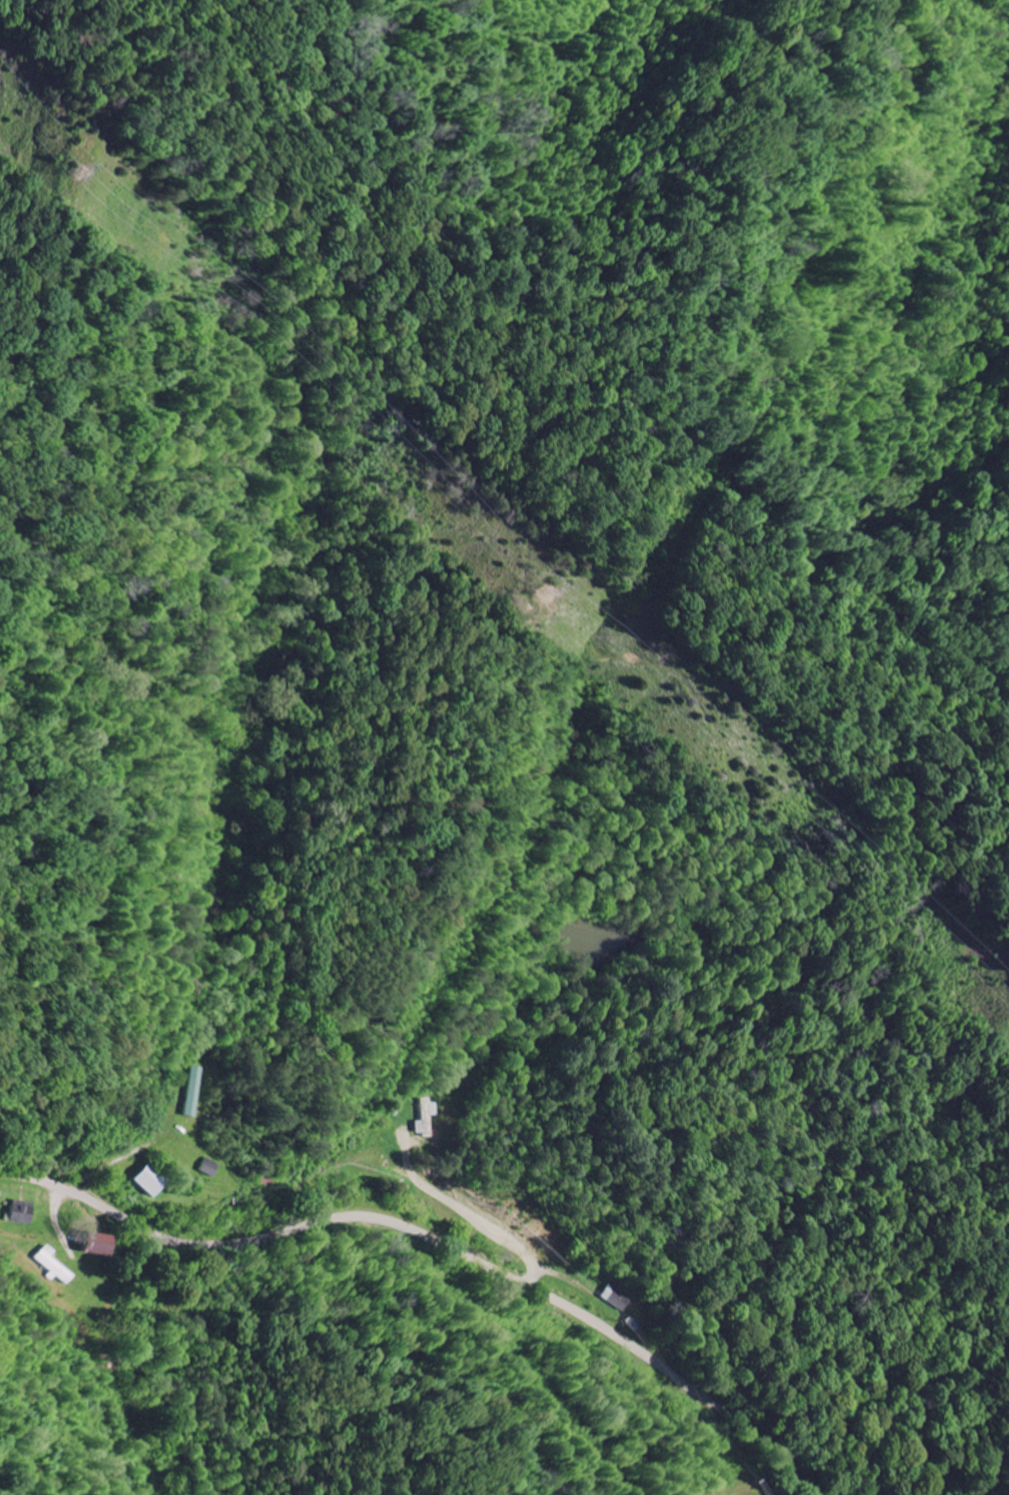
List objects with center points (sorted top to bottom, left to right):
power tower: (76, 174)
building: (190, 1091)
building: (206, 1167)
building: (147, 1181)
building: (22, 1212)
road: (435, 1242)
building: (54, 1263)

